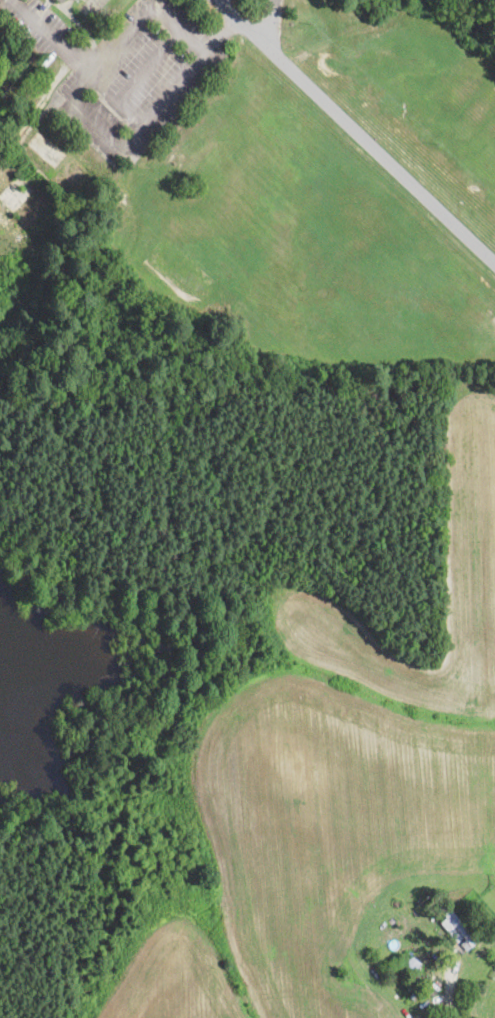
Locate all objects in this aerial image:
building: (62, 1)
building: (91, 10)
road: (270, 22)
road: (79, 60)
road: (147, 64)
park: (9, 84)
road: (91, 116)
road: (356, 130)
building: (5, 172)
building: (69, 178)
building: (34, 211)
building: (4, 222)
park: (247, 399)
building: (458, 930)
building: (407, 962)
building: (426, 986)
road: (452, 1000)

